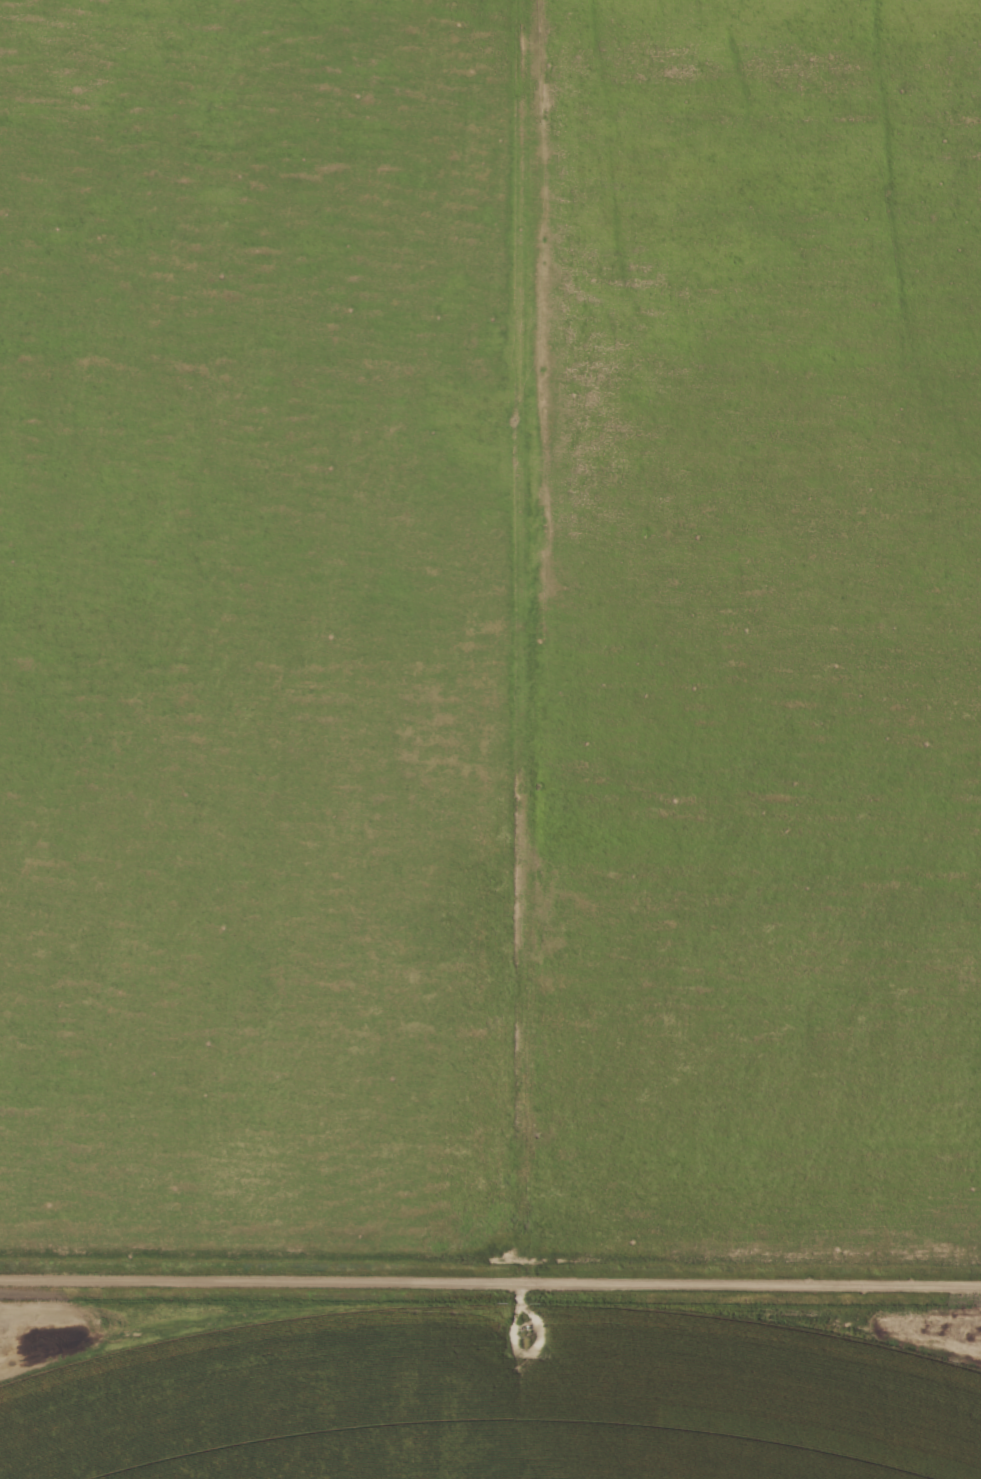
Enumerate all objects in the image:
road: (490, 1282)

